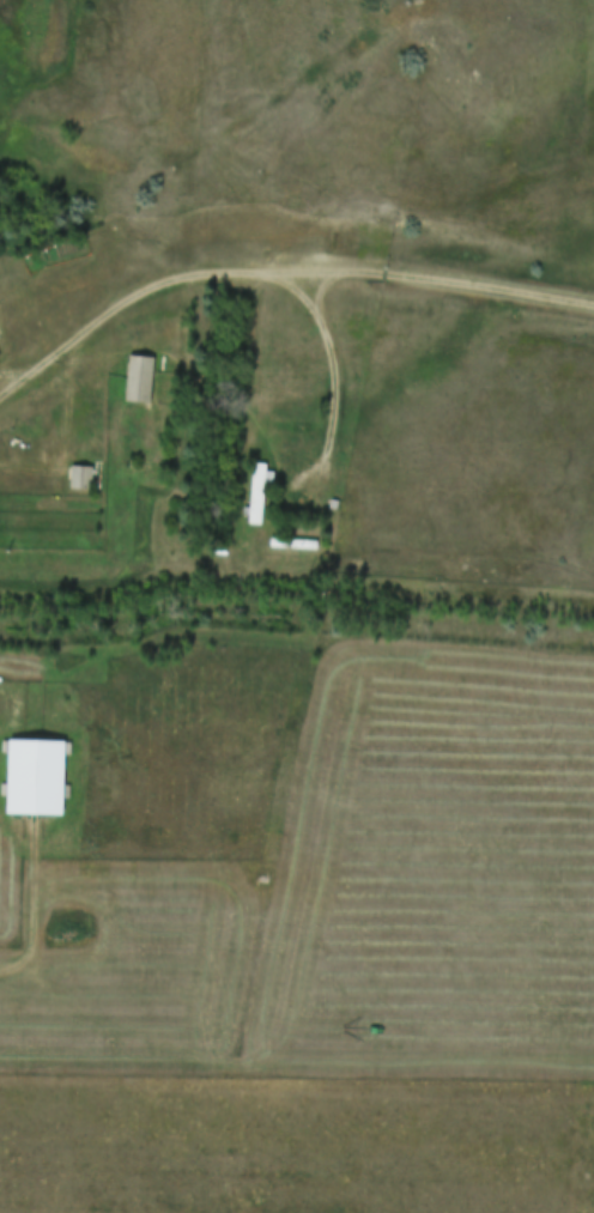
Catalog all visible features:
road: (279, 272)
building: (135, 381)
building: (77, 479)
building: (253, 495)
building: (30, 778)

